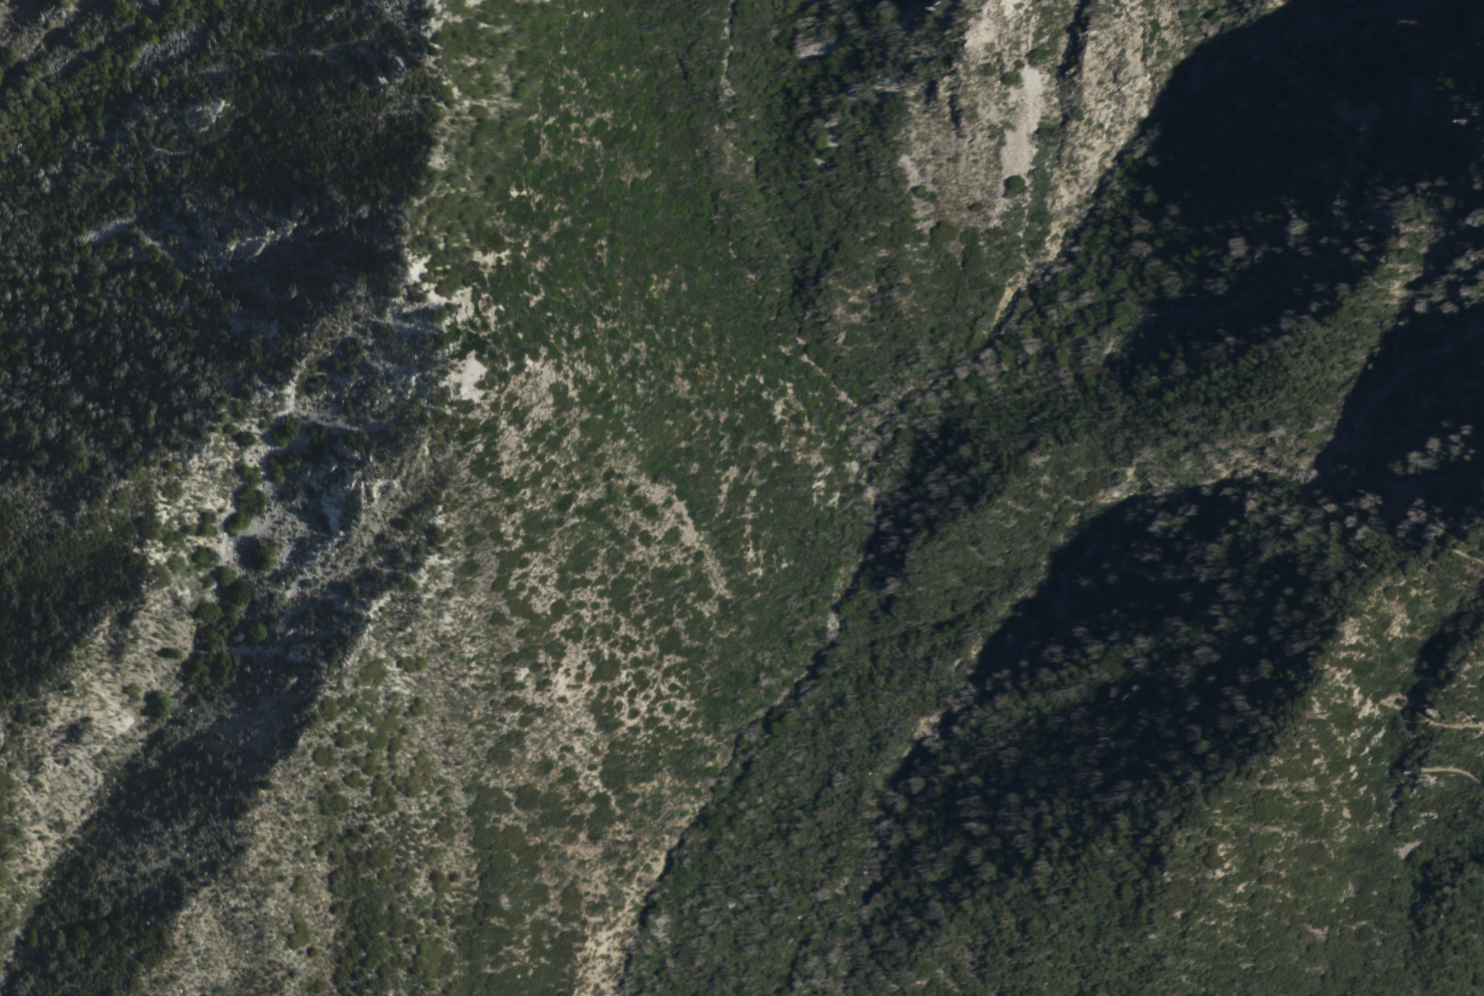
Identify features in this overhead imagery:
road: (1382, 297)
road: (1403, 727)

